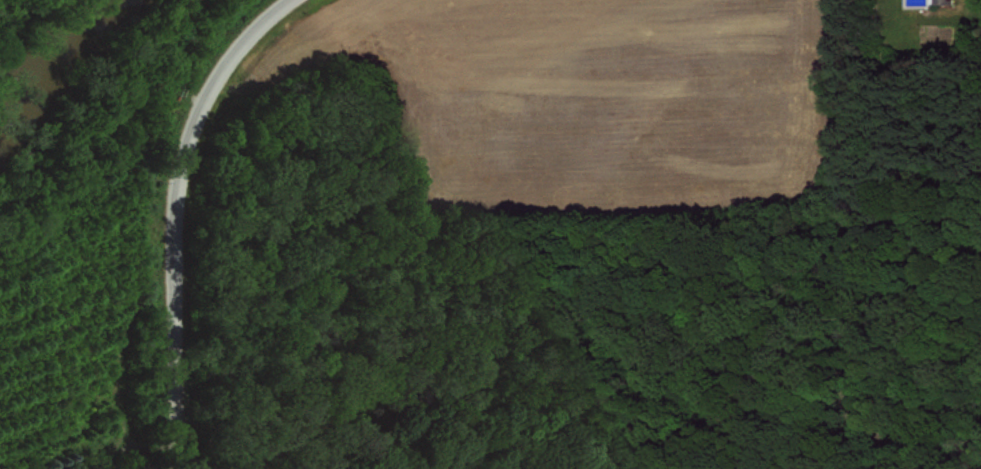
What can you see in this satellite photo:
building: (928, 1)
river: (65, 61)
road: (169, 211)

